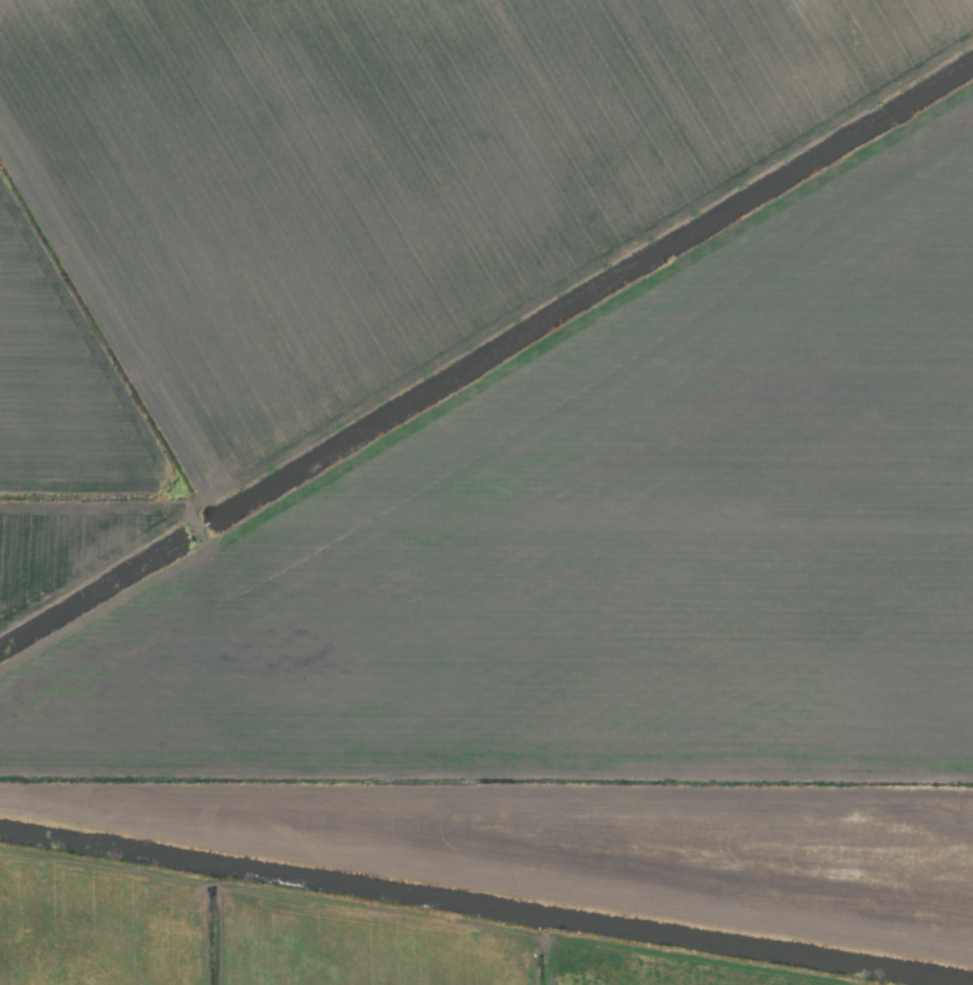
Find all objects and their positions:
crop: (486, 492)

